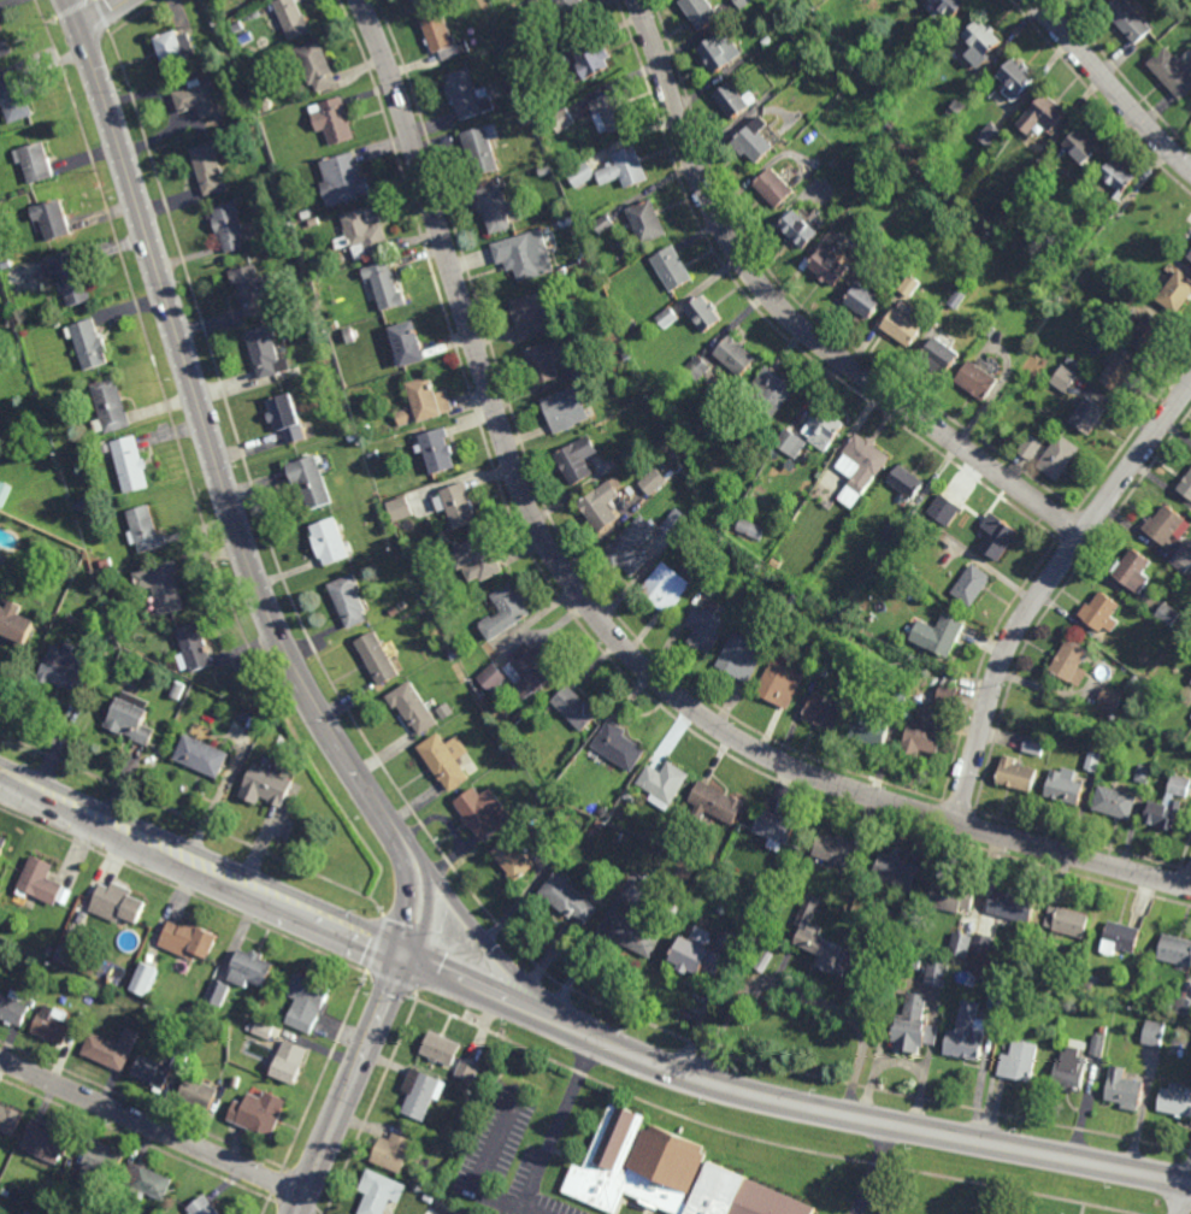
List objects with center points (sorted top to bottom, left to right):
building: (424, 1)
building: (743, 2)
building: (872, 4)
building: (570, 7)
building: (949, 7)
building: (702, 13)
road: (104, 16)
building: (293, 19)
building: (1128, 23)
building: (237, 26)
building: (1180, 30)
building: (438, 36)
building: (766, 42)
building: (983, 45)
building: (4, 47)
building: (783, 47)
building: (173, 52)
building: (721, 54)
building: (549, 58)
building: (842, 61)
building: (594, 63)
building: (316, 67)
building: (1173, 75)
building: (1019, 78)
road: (1110, 86)
building: (13, 96)
building: (467, 96)
building: (199, 101)
building: (520, 101)
building: (737, 102)
building: (264, 105)
building: (956, 106)
building: (609, 114)
building: (1043, 117)
building: (524, 120)
building: (561, 120)
building: (331, 122)
building: (989, 134)
building: (757, 142)
building: (1084, 149)
building: (483, 151)
building: (35, 161)
building: (208, 170)
building: (626, 170)
building: (1045, 172)
building: (582, 175)
building: (1119, 179)
building: (343, 181)
building: (963, 181)
building: (776, 190)
building: (947, 206)
building: (495, 211)
building: (303, 212)
building: (51, 218)
building: (603, 223)
building: (647, 224)
building: (229, 226)
building: (802, 231)
building: (364, 234)
building: (1108, 252)
building: (525, 255)
building: (1190, 258)
building: (5, 264)
building: (831, 267)
building: (673, 270)
building: (69, 278)
building: (910, 284)
building: (383, 287)
building: (252, 288)
building: (1177, 294)
building: (957, 297)
building: (866, 300)
building: (535, 313)
building: (704, 314)
building: (8, 317)
building: (667, 317)
road: (791, 318)
building: (334, 324)
building: (630, 324)
building: (906, 324)
building: (990, 330)
building: (1151, 331)
building: (348, 335)
building: (322, 337)
building: (87, 342)
building: (408, 343)
building: (264, 350)
building: (945, 353)
building: (736, 355)
building: (547, 361)
building: (1073, 361)
building: (697, 367)
building: (1120, 372)
building: (1063, 377)
building: (978, 381)
building: (770, 394)
building: (429, 399)
building: (110, 405)
building: (566, 409)
building: (403, 417)
building: (1092, 417)
building: (287, 419)
building: (364, 429)
building: (825, 429)
building: (350, 437)
road: (210, 442)
building: (790, 442)
building: (1030, 447)
building: (438, 450)
building: (372, 455)
building: (1060, 456)
building: (578, 460)
building: (755, 461)
building: (128, 462)
building: (863, 470)
building: (653, 481)
building: (311, 482)
building: (907, 484)
building: (1187, 485)
building: (4, 491)
building: (81, 505)
building: (459, 506)
building: (941, 506)
building: (601, 507)
building: (715, 507)
building: (399, 509)
building: (724, 513)
building: (798, 520)
building: (674, 523)
building: (1167, 526)
building: (892, 528)
building: (143, 529)
building: (750, 529)
building: (1002, 538)
building: (329, 541)
building: (631, 547)
building: (1181, 558)
building: (477, 559)
building: (104, 562)
building: (1134, 571)
building: (104, 574)
building: (894, 577)
building: (711, 583)
building: (972, 584)
building: (161, 585)
building: (665, 587)
road: (1042, 587)
building: (792, 599)
building: (349, 602)
building: (401, 605)
building: (394, 611)
building: (506, 612)
building: (1102, 612)
building: (442, 613)
building: (1167, 613)
building: (453, 618)
road: (596, 618)
building: (14, 624)
building: (706, 627)
building: (943, 635)
building: (193, 648)
building: (741, 656)
building: (377, 658)
building: (1071, 662)
building: (823, 666)
building: (533, 668)
building: (65, 670)
building: (491, 678)
building: (1190, 680)
building: (1133, 682)
building: (1190, 682)
building: (780, 684)
building: (947, 688)
building: (176, 690)
building: (898, 700)
building: (1108, 700)
building: (413, 708)
building: (576, 708)
building: (823, 712)
building: (518, 718)
building: (129, 721)
building: (869, 730)
building: (926, 731)
building: (1033, 743)
building: (224, 746)
building: (618, 747)
building: (200, 756)
building: (447, 760)
building: (1092, 760)
building: (264, 761)
building: (513, 761)
building: (1143, 772)
building: (1015, 774)
building: (665, 785)
building: (1178, 785)
building: (265, 786)
building: (1063, 786)
building: (627, 798)
building: (586, 802)
building: (1115, 803)
building: (718, 805)
building: (483, 814)
building: (1165, 817)
building: (599, 825)
building: (777, 829)
building: (592, 831)
building: (4, 848)
building: (837, 850)
building: (515, 858)
road: (201, 861)
building: (897, 872)
building: (774, 882)
building: (42, 883)
building: (950, 896)
building: (570, 901)
building: (117, 904)
road: (418, 904)
building: (1013, 906)
building: (809, 913)
building: (1071, 923)
building: (637, 936)
building: (188, 938)
building: (1121, 939)
building: (980, 943)
building: (960, 944)
building: (1, 945)
building: (52, 949)
building: (1177, 950)
traffic signals: (403, 951)
building: (829, 951)
building: (61, 954)
building: (700, 955)
building: (763, 959)
building: (914, 961)
road: (520, 971)
building: (936, 972)
building: (241, 973)
building: (146, 979)
road: (802, 995)
building: (306, 1000)
building: (994, 1001)
building: (1046, 1002)
building: (16, 1004)
road: (526, 1006)
building: (1169, 1006)
building: (1183, 1007)
building: (190, 1009)
building: (257, 1013)
building: (83, 1015)
building: (155, 1020)
building: (54, 1023)
building: (249, 1026)
building: (264, 1029)
building: (1103, 1030)
building: (191, 1031)
building: (1152, 1032)
building: (968, 1033)
building: (913, 1036)
building: (235, 1037)
building: (1097, 1045)
building: (112, 1047)
building: (442, 1049)
building: (290, 1060)
building: (1020, 1062)
building: (160, 1067)
building: (468, 1069)
building: (1071, 1071)
building: (236, 1080)
road: (348, 1083)
building: (1125, 1089)
building: (199, 1091)
building: (423, 1094)
building: (1177, 1100)
building: (259, 1112)
building: (10, 1116)
road: (151, 1126)
road: (556, 1127)
road: (918, 1130)
building: (48, 1139)
building: (394, 1153)
building: (104, 1159)
road: (484, 1167)
road: (874, 1169)
building: (667, 1174)
building: (147, 1181)
building: (6, 1191)
building: (381, 1192)
road: (1185, 1200)
building: (204, 1206)
building: (29, 1212)
road: (296, 1213)

